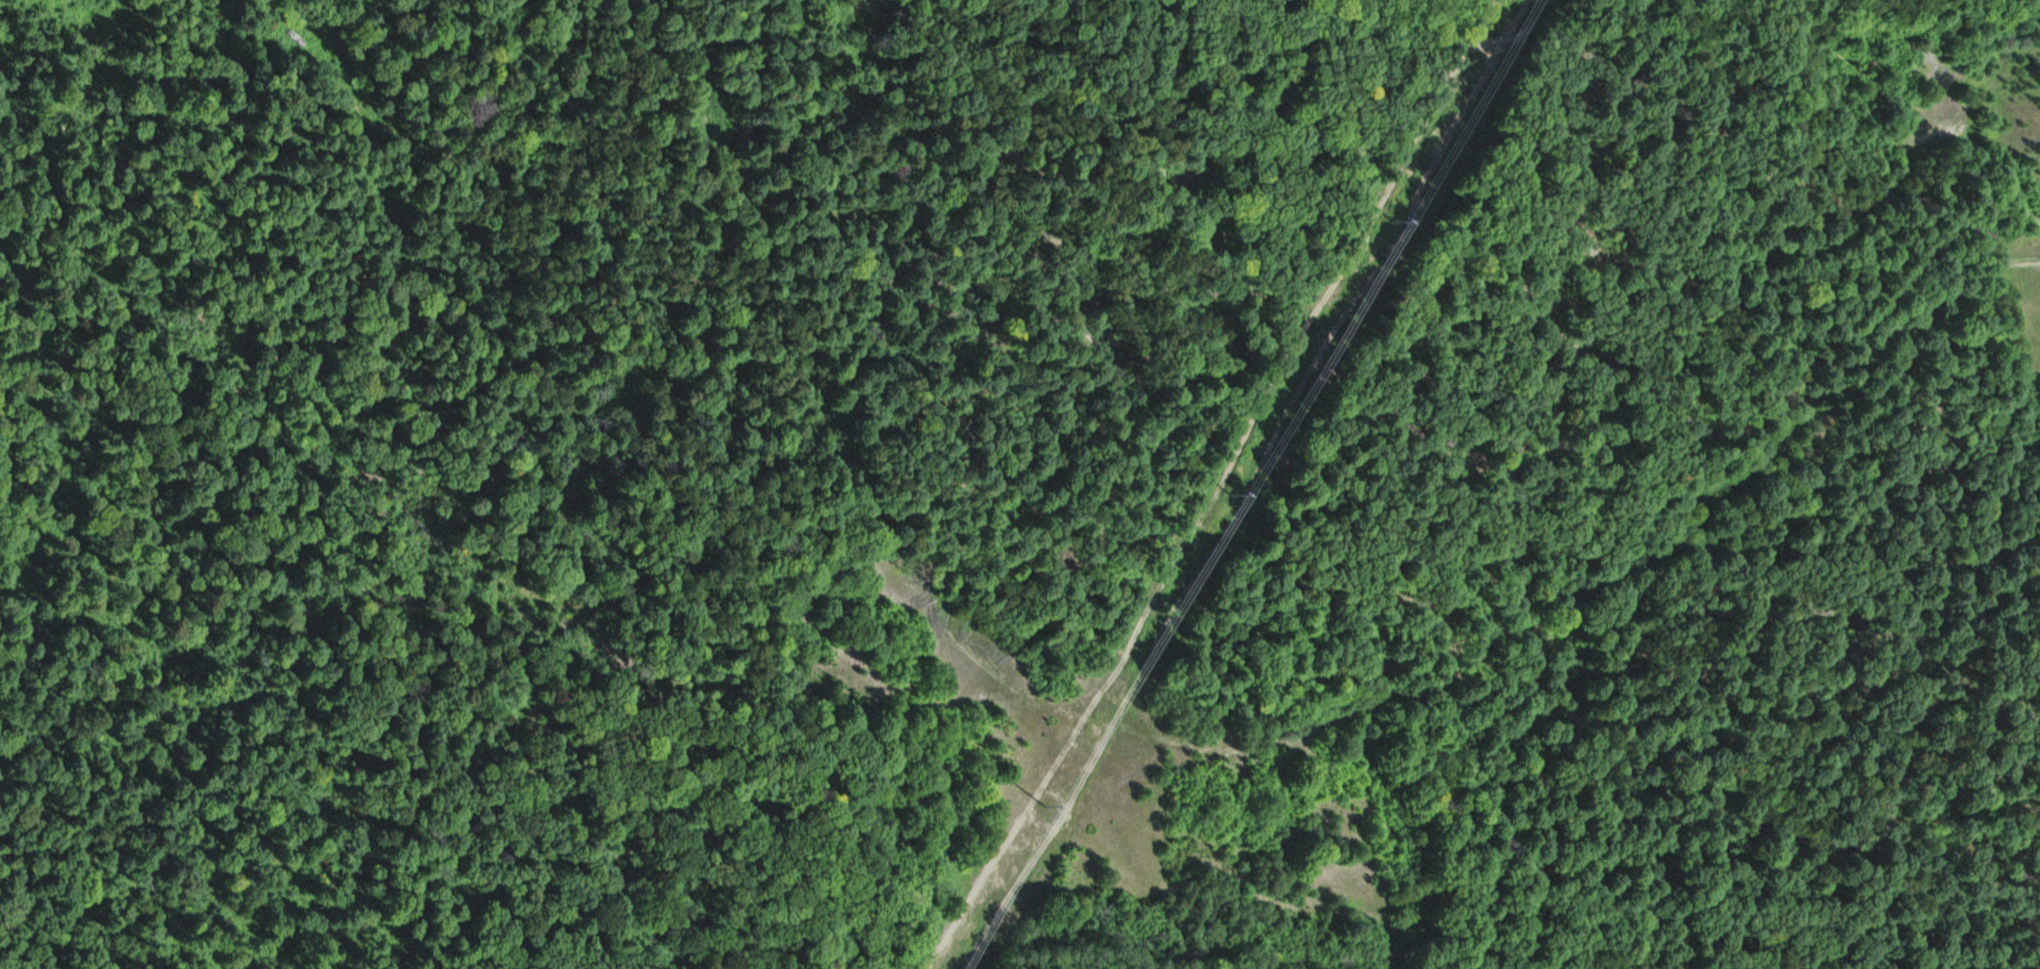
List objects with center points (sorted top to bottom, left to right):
road: (1587, 10)
power tower: (1386, 219)
power tower: (1228, 492)
power tower: (1048, 803)

